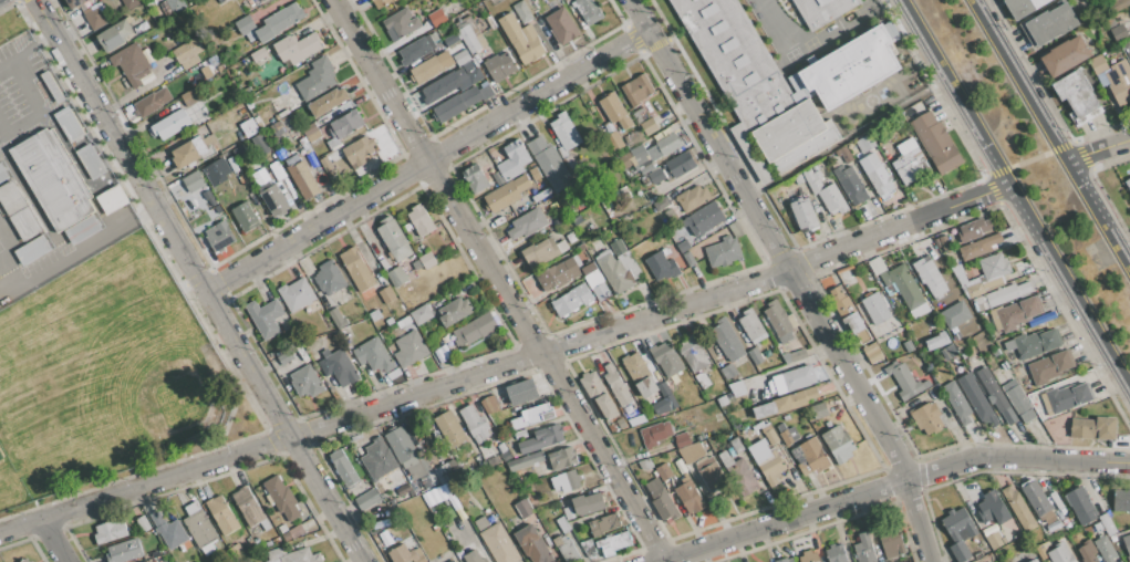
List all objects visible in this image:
building: (103, 0)
building: (260, 0)
building: (262, 0)
building: (221, 1)
building: (381, 2)
building: (75, 3)
building: (132, 3)
building: (175, 4)
building: (1119, 4)
building: (1023, 7)
building: (1129, 7)
building: (162, 10)
building: (588, 10)
building: (521, 11)
building: (820, 11)
building: (94, 18)
building: (437, 18)
building: (279, 22)
building: (402, 22)
building: (1048, 24)
building: (245, 25)
building: (561, 27)
building: (1119, 32)
building: (115, 34)
building: (521, 38)
building: (450, 39)
building: (469, 39)
road: (32, 44)
road: (804, 44)
building: (418, 48)
building: (1127, 48)
building: (291, 52)
building: (188, 53)
building: (258, 55)
building: (1065, 56)
building: (462, 58)
road: (4, 62)
building: (132, 64)
building: (1097, 64)
building: (432, 66)
building: (500, 66)
building: (475, 75)
building: (317, 80)
building: (1119, 82)
building: (779, 84)
building: (443, 86)
building: (51, 87)
building: (636, 90)
building: (486, 92)
building: (1076, 93)
building: (190, 97)
building: (152, 102)
building: (328, 102)
building: (456, 105)
road: (39, 108)
building: (290, 108)
building: (614, 111)
building: (283, 113)
building: (640, 115)
building: (69, 124)
building: (172, 124)
building: (647, 126)
building: (249, 127)
building: (344, 128)
building: (311, 132)
building: (564, 133)
road: (1049, 136)
building: (634, 138)
building: (299, 139)
building: (616, 139)
road: (1122, 142)
building: (936, 143)
building: (865, 144)
building: (260, 145)
building: (209, 147)
building: (664, 147)
building: (359, 150)
building: (188, 152)
building: (238, 152)
road: (1089, 153)
building: (844, 155)
building: (311, 156)
building: (496, 156)
building: (640, 156)
building: (291, 158)
road: (428, 159)
road: (1029, 159)
building: (90, 160)
building: (512, 160)
building: (626, 162)
building: (549, 163)
building: (909, 163)
building: (325, 164)
building: (678, 165)
building: (276, 168)
building: (646, 169)
building: (657, 171)
building: (877, 174)
building: (52, 178)
building: (498, 178)
building: (302, 179)
building: (475, 179)
building: (812, 179)
building: (1128, 183)
building: (851, 185)
building: (197, 188)
building: (506, 194)
road: (1016, 194)
building: (113, 199)
building: (693, 199)
building: (832, 199)
building: (211, 201)
building: (274, 201)
building: (661, 204)
building: (218, 210)
building: (804, 212)
building: (212, 215)
building: (245, 216)
building: (671, 216)
building: (703, 219)
building: (21, 220)
building: (419, 220)
building: (528, 223)
building: (82, 229)
building: (973, 229)
building: (219, 237)
building: (393, 238)
road: (86, 246)
building: (683, 246)
building: (618, 247)
building: (978, 247)
building: (542, 251)
building: (723, 251)
building: (688, 259)
building: (427, 261)
building: (994, 266)
building: (661, 267)
building: (589, 269)
building: (356, 270)
building: (613, 271)
building: (958, 273)
building: (559, 274)
road: (795, 274)
building: (396, 275)
building: (930, 275)
building: (329, 278)
building: (593, 279)
road: (201, 280)
road: (498, 280)
building: (899, 281)
building: (992, 283)
building: (974, 290)
building: (601, 292)
building: (296, 294)
building: (387, 294)
building: (998, 296)
building: (571, 300)
building: (840, 303)
building: (875, 308)
building: (454, 311)
building: (1017, 313)
building: (421, 314)
building: (374, 315)
road: (654, 315)
building: (265, 316)
building: (338, 319)
building: (971, 320)
building: (388, 321)
building: (404, 321)
building: (778, 321)
building: (852, 323)
building: (751, 325)
building: (474, 329)
building: (862, 334)
building: (445, 339)
building: (727, 340)
building: (935, 341)
building: (1033, 343)
building: (909, 346)
building: (410, 348)
building: (870, 350)
building: (951, 351)
building: (442, 352)
building: (996, 352)
building: (693, 353)
building: (373, 355)
building: (792, 355)
building: (874, 356)
building: (284, 357)
building: (666, 358)
building: (722, 362)
building: (776, 364)
building: (1004, 364)
building: (340, 367)
building: (635, 367)
building: (1050, 367)
building: (702, 379)
building: (794, 379)
building: (904, 381)
building: (305, 382)
building: (592, 385)
building: (616, 385)
building: (926, 385)
building: (646, 387)
building: (993, 389)
building: (521, 393)
building: (810, 393)
building: (1067, 397)
building: (798, 399)
building: (1018, 399)
building: (723, 400)
building: (956, 402)
building: (489, 404)
building: (782, 404)
building: (607, 406)
building: (981, 407)
building: (819, 410)
building: (765, 412)
building: (500, 414)
building: (531, 416)
building: (1009, 416)
building: (929, 418)
building: (636, 420)
building: (474, 421)
building: (621, 424)
building: (612, 427)
building: (449, 428)
building: (1092, 428)
building: (654, 434)
building: (769, 434)
building: (520, 435)
building: (788, 435)
building: (541, 438)
building: (478, 439)
building: (682, 440)
building: (838, 444)
building: (400, 445)
building: (736, 445)
building: (504, 451)
building: (690, 452)
building: (709, 454)
building: (812, 457)
building: (561, 458)
building: (377, 459)
building: (493, 461)
building: (525, 461)
building: (767, 461)
road: (1120, 462)
building: (344, 468)
building: (447, 471)
building: (663, 471)
building: (740, 476)
building: (712, 477)
building: (573, 479)
building: (426, 482)
road: (146, 485)
road: (880, 486)
building: (437, 493)
building: (281, 497)
building: (690, 497)
building: (661, 499)
building: (367, 500)
building: (1120, 500)
building: (1038, 501)
building: (588, 503)
building: (1081, 504)
building: (248, 506)
building: (523, 508)
building: (993, 508)
building: (1018, 509)
building: (568, 512)
building: (224, 518)
building: (157, 519)
building: (143, 523)
building: (198, 524)
building: (562, 524)
building: (603, 524)
building: (1107, 524)
building: (1051, 525)
building: (108, 532)
building: (293, 532)
building: (958, 532)
building: (172, 533)
building: (995, 540)
road: (55, 541)
building: (249, 541)
building: (256, 541)
building: (276, 541)
building: (497, 542)
building: (891, 542)
building: (612, 543)
building: (1127, 543)
building: (269, 544)
building: (532, 544)
building: (588, 548)
building: (235, 549)
building: (566, 549)
building: (863, 549)
building: (1105, 549)
building: (124, 551)
building: (1087, 552)
building: (836, 553)
building: (1060, 553)
building: (405, 554)
building: (292, 555)
building: (473, 556)
building: (808, 556)
building: (24, 560)
building: (784, 560)
building: (1016, 560)
building: (30, 561)
building: (1034, 561)

